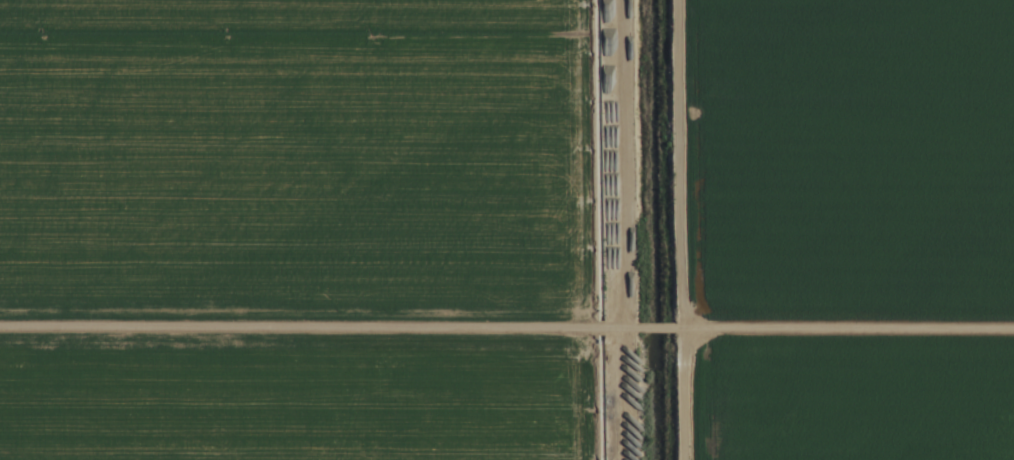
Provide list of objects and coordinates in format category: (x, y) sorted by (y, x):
crop: (507, 230)

